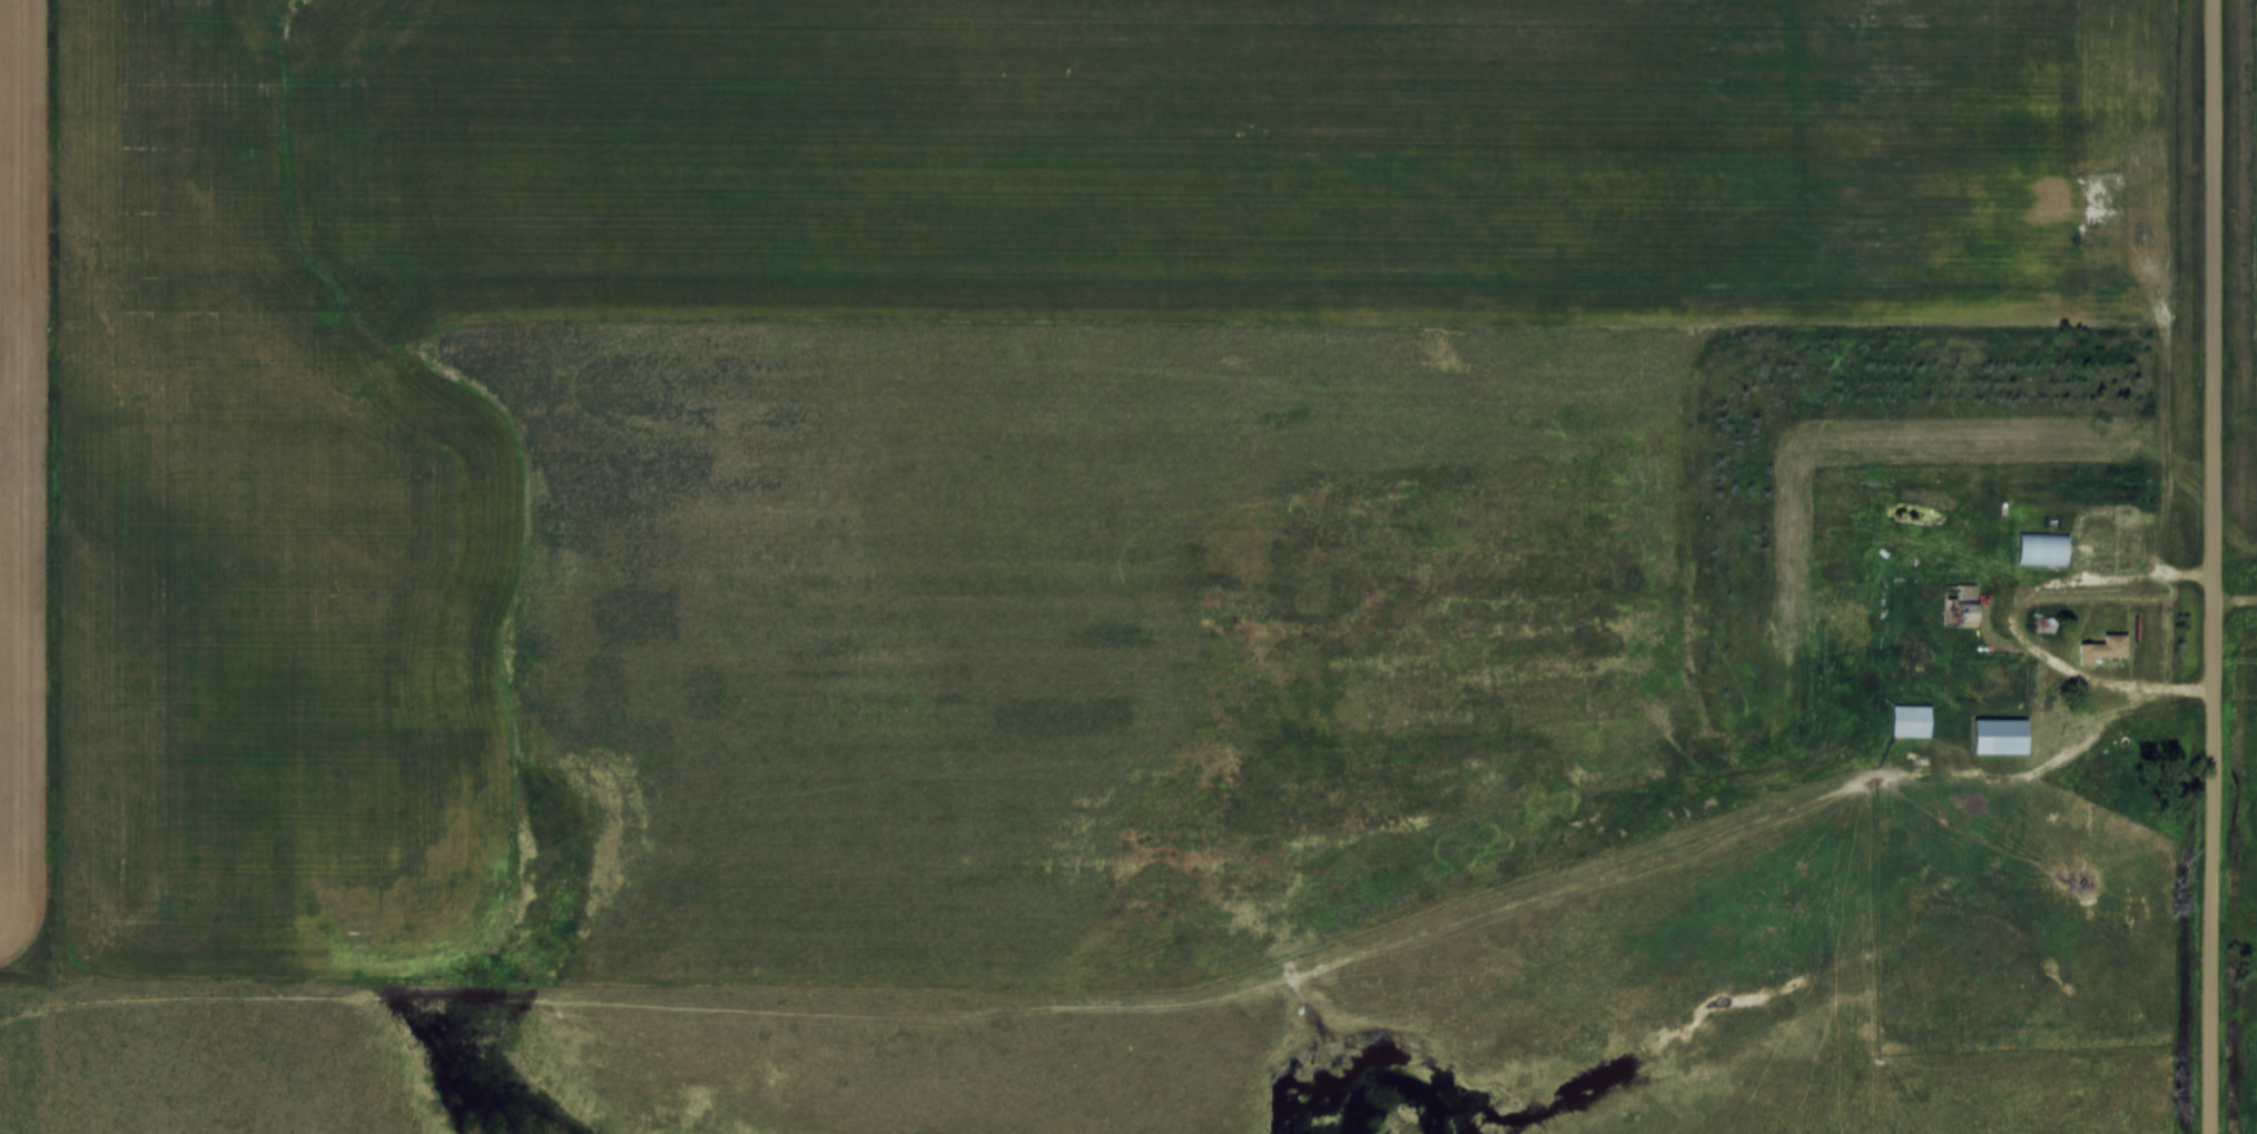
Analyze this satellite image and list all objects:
road: (2216, 566)
road: (2018, 628)
building: (1906, 723)
building: (1992, 739)

